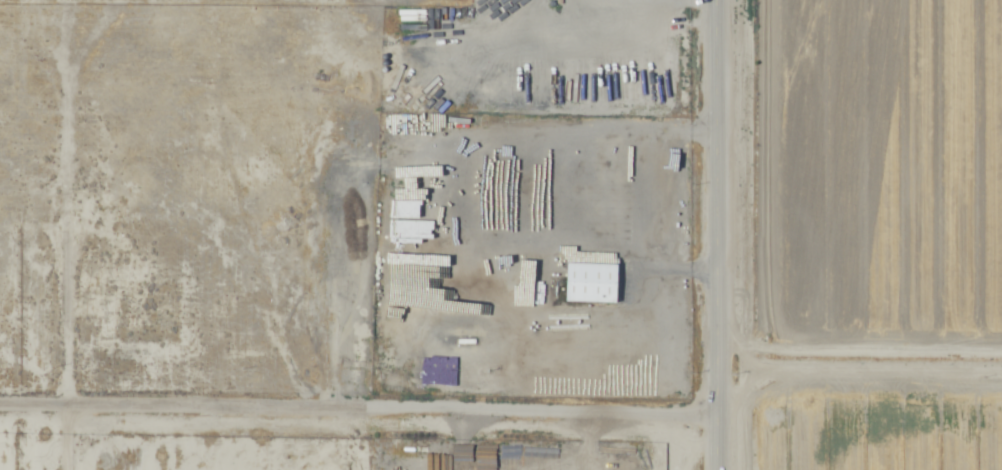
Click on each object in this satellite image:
road: (74, 64)
crop: (849, 234)
road: (715, 235)
road: (64, 270)
building: (591, 283)
road: (357, 414)

